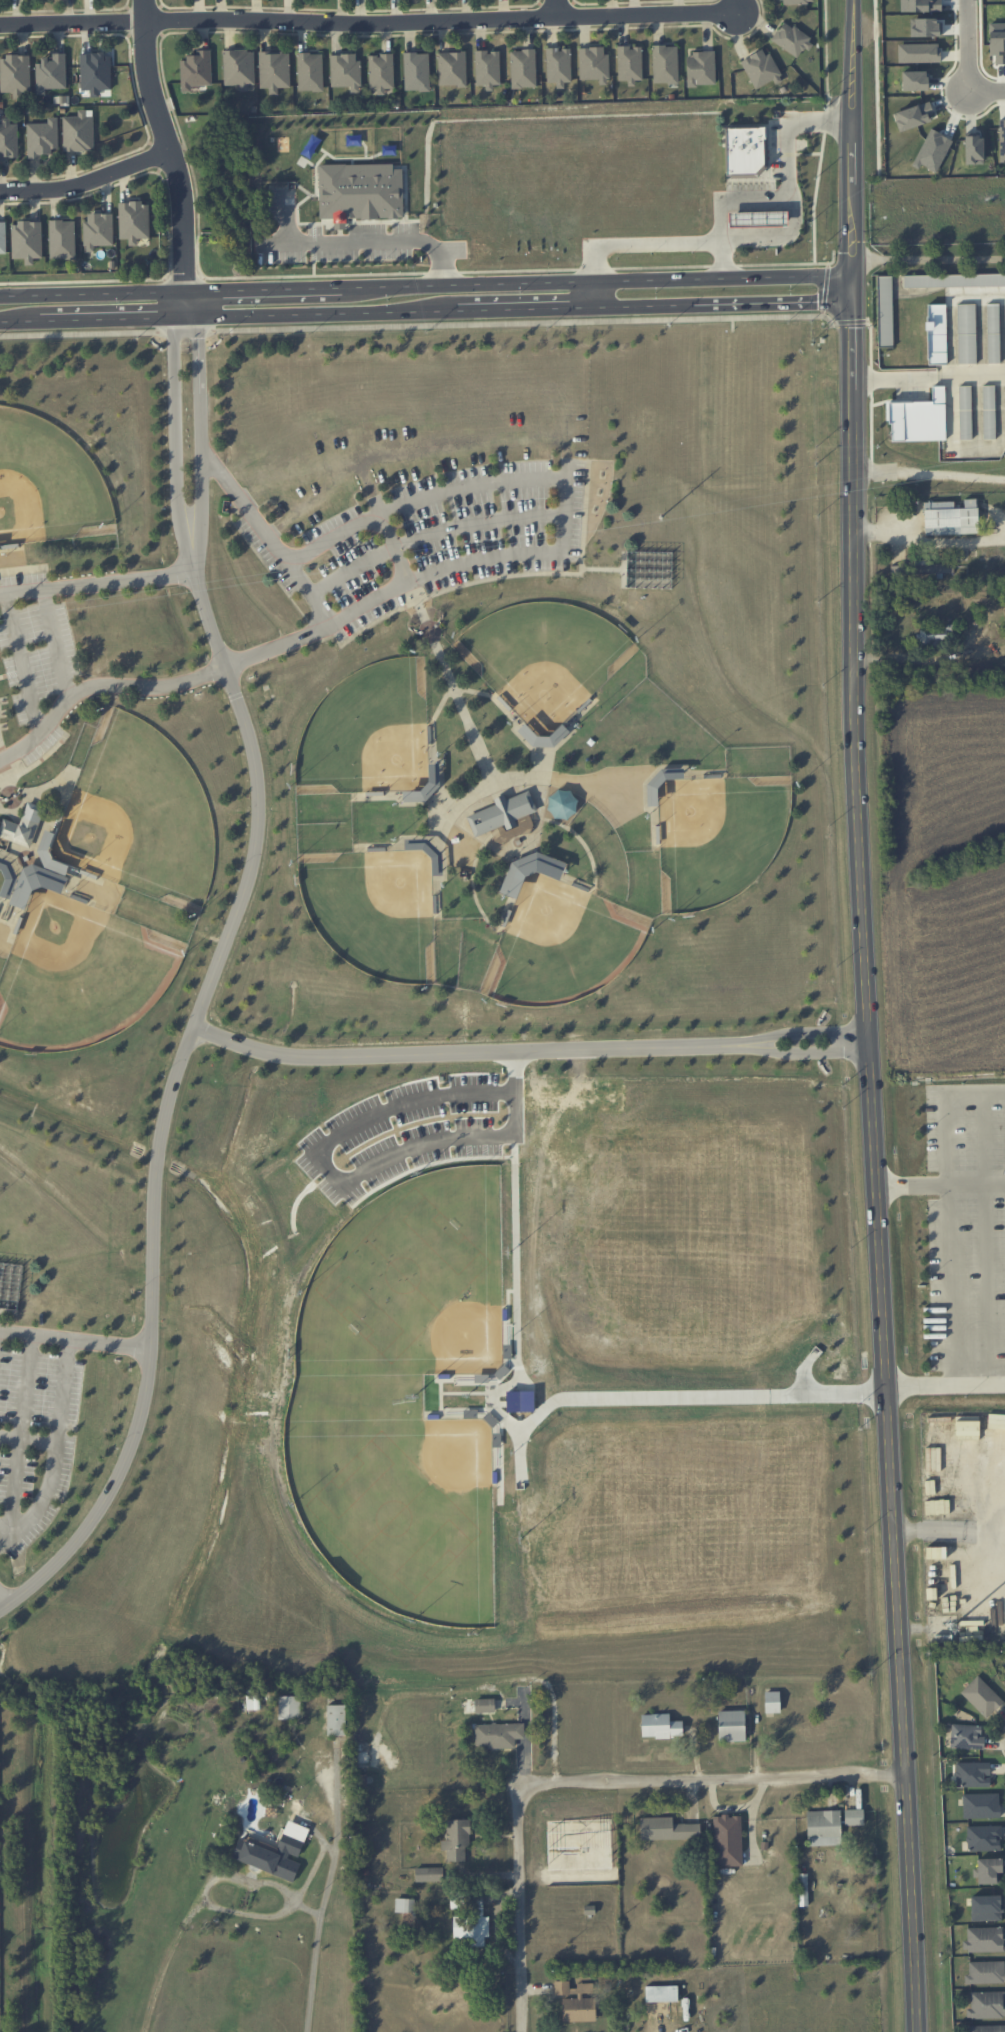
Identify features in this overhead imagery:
building: (792, 1)
road: (736, 7)
road: (557, 9)
road: (368, 23)
building: (791, 39)
building: (918, 53)
building: (629, 63)
road: (969, 63)
building: (593, 64)
building: (665, 64)
building: (558, 66)
building: (239, 67)
building: (487, 67)
building: (452, 68)
building: (523, 68)
building: (700, 68)
building: (761, 68)
building: (196, 70)
building: (274, 70)
building: (310, 71)
building: (345, 71)
building: (416, 71)
building: (95, 72)
building: (381, 72)
building: (15, 73)
building: (49, 73)
building: (914, 80)
building: (913, 116)
building: (79, 131)
building: (42, 137)
road: (852, 137)
building: (8, 140)
building: (1002, 140)
road: (169, 146)
building: (974, 149)
building: (748, 152)
road: (88, 182)
road: (792, 188)
building: (361, 190)
road: (166, 210)
building: (760, 220)
gas station: (760, 220)
building: (134, 221)
building: (98, 230)
building: (3, 237)
building: (62, 239)
road: (648, 239)
building: (27, 240)
road: (369, 241)
road: (928, 258)
road: (349, 275)
road: (185, 283)
road: (597, 283)
road: (264, 291)
road: (93, 295)
road: (186, 305)
road: (725, 305)
road: (519, 309)
road: (313, 313)
road: (108, 318)
road: (16, 321)
building: (996, 332)
building: (966, 333)
building: (936, 334)
road: (928, 377)
building: (988, 411)
building: (965, 412)
building: (918, 418)
road: (200, 440)
road: (176, 442)
road: (929, 468)
park: (47, 483)
road: (566, 491)
power tower: (665, 517)
building: (950, 518)
road: (430, 536)
road: (266, 538)
road: (930, 540)
parking lot: (431, 541)
road: (393, 547)
building: (997, 564)
park: (649, 568)
building: (934, 568)
road: (589, 569)
road: (23, 570)
road: (98, 582)
building: (936, 634)
road: (56, 643)
road: (278, 646)
park: (545, 660)
road: (22, 663)
parking lot: (34, 670)
road: (448, 681)
road: (99, 686)
park: (366, 729)
road: (544, 746)
road: (36, 766)
road: (2, 768)
road: (587, 782)
building: (428, 789)
road: (440, 802)
park: (142, 811)
building: (502, 812)
building: (23, 825)
park: (714, 836)
building: (519, 869)
building: (34, 880)
park: (1, 883)
park: (372, 910)
park: (559, 945)
park: (83, 974)
park: (425, 1012)
road: (856, 1040)
road: (731, 1045)
road: (459, 1052)
road: (167, 1104)
road: (946, 1112)
parking lot: (403, 1133)
road: (874, 1154)
road: (322, 1163)
road: (940, 1188)
road: (985, 1239)
road: (950, 1285)
park: (415, 1286)
road: (7, 1314)
road: (34, 1338)
road: (108, 1347)
road: (943, 1383)
road: (544, 1411)
parking lot: (37, 1424)
road: (19, 1439)
road: (27, 1444)
road: (54, 1455)
park: (405, 1515)
road: (950, 1529)
road: (3, 1603)
building: (982, 1696)
building: (253, 1702)
building: (772, 1702)
building: (485, 1705)
building: (289, 1707)
building: (337, 1720)
building: (731, 1725)
building: (660, 1726)
building: (498, 1735)
building: (966, 1736)
building: (972, 1774)
road: (708, 1780)
building: (981, 1805)
building: (854, 1817)
building: (823, 1827)
building: (667, 1829)
building: (984, 1838)
building: (457, 1840)
building: (727, 1840)
building: (275, 1852)
road: (313, 1870)
building: (988, 1871)
building: (428, 1874)
road: (210, 1883)
road: (324, 1890)
building: (405, 1905)
building: (986, 1907)
road: (522, 1910)
building: (472, 1925)
building: (984, 1939)
building: (985, 1972)
building: (661, 1993)
building: (986, 2005)
building: (579, 2009)
road: (659, 2020)
building: (986, 2028)

